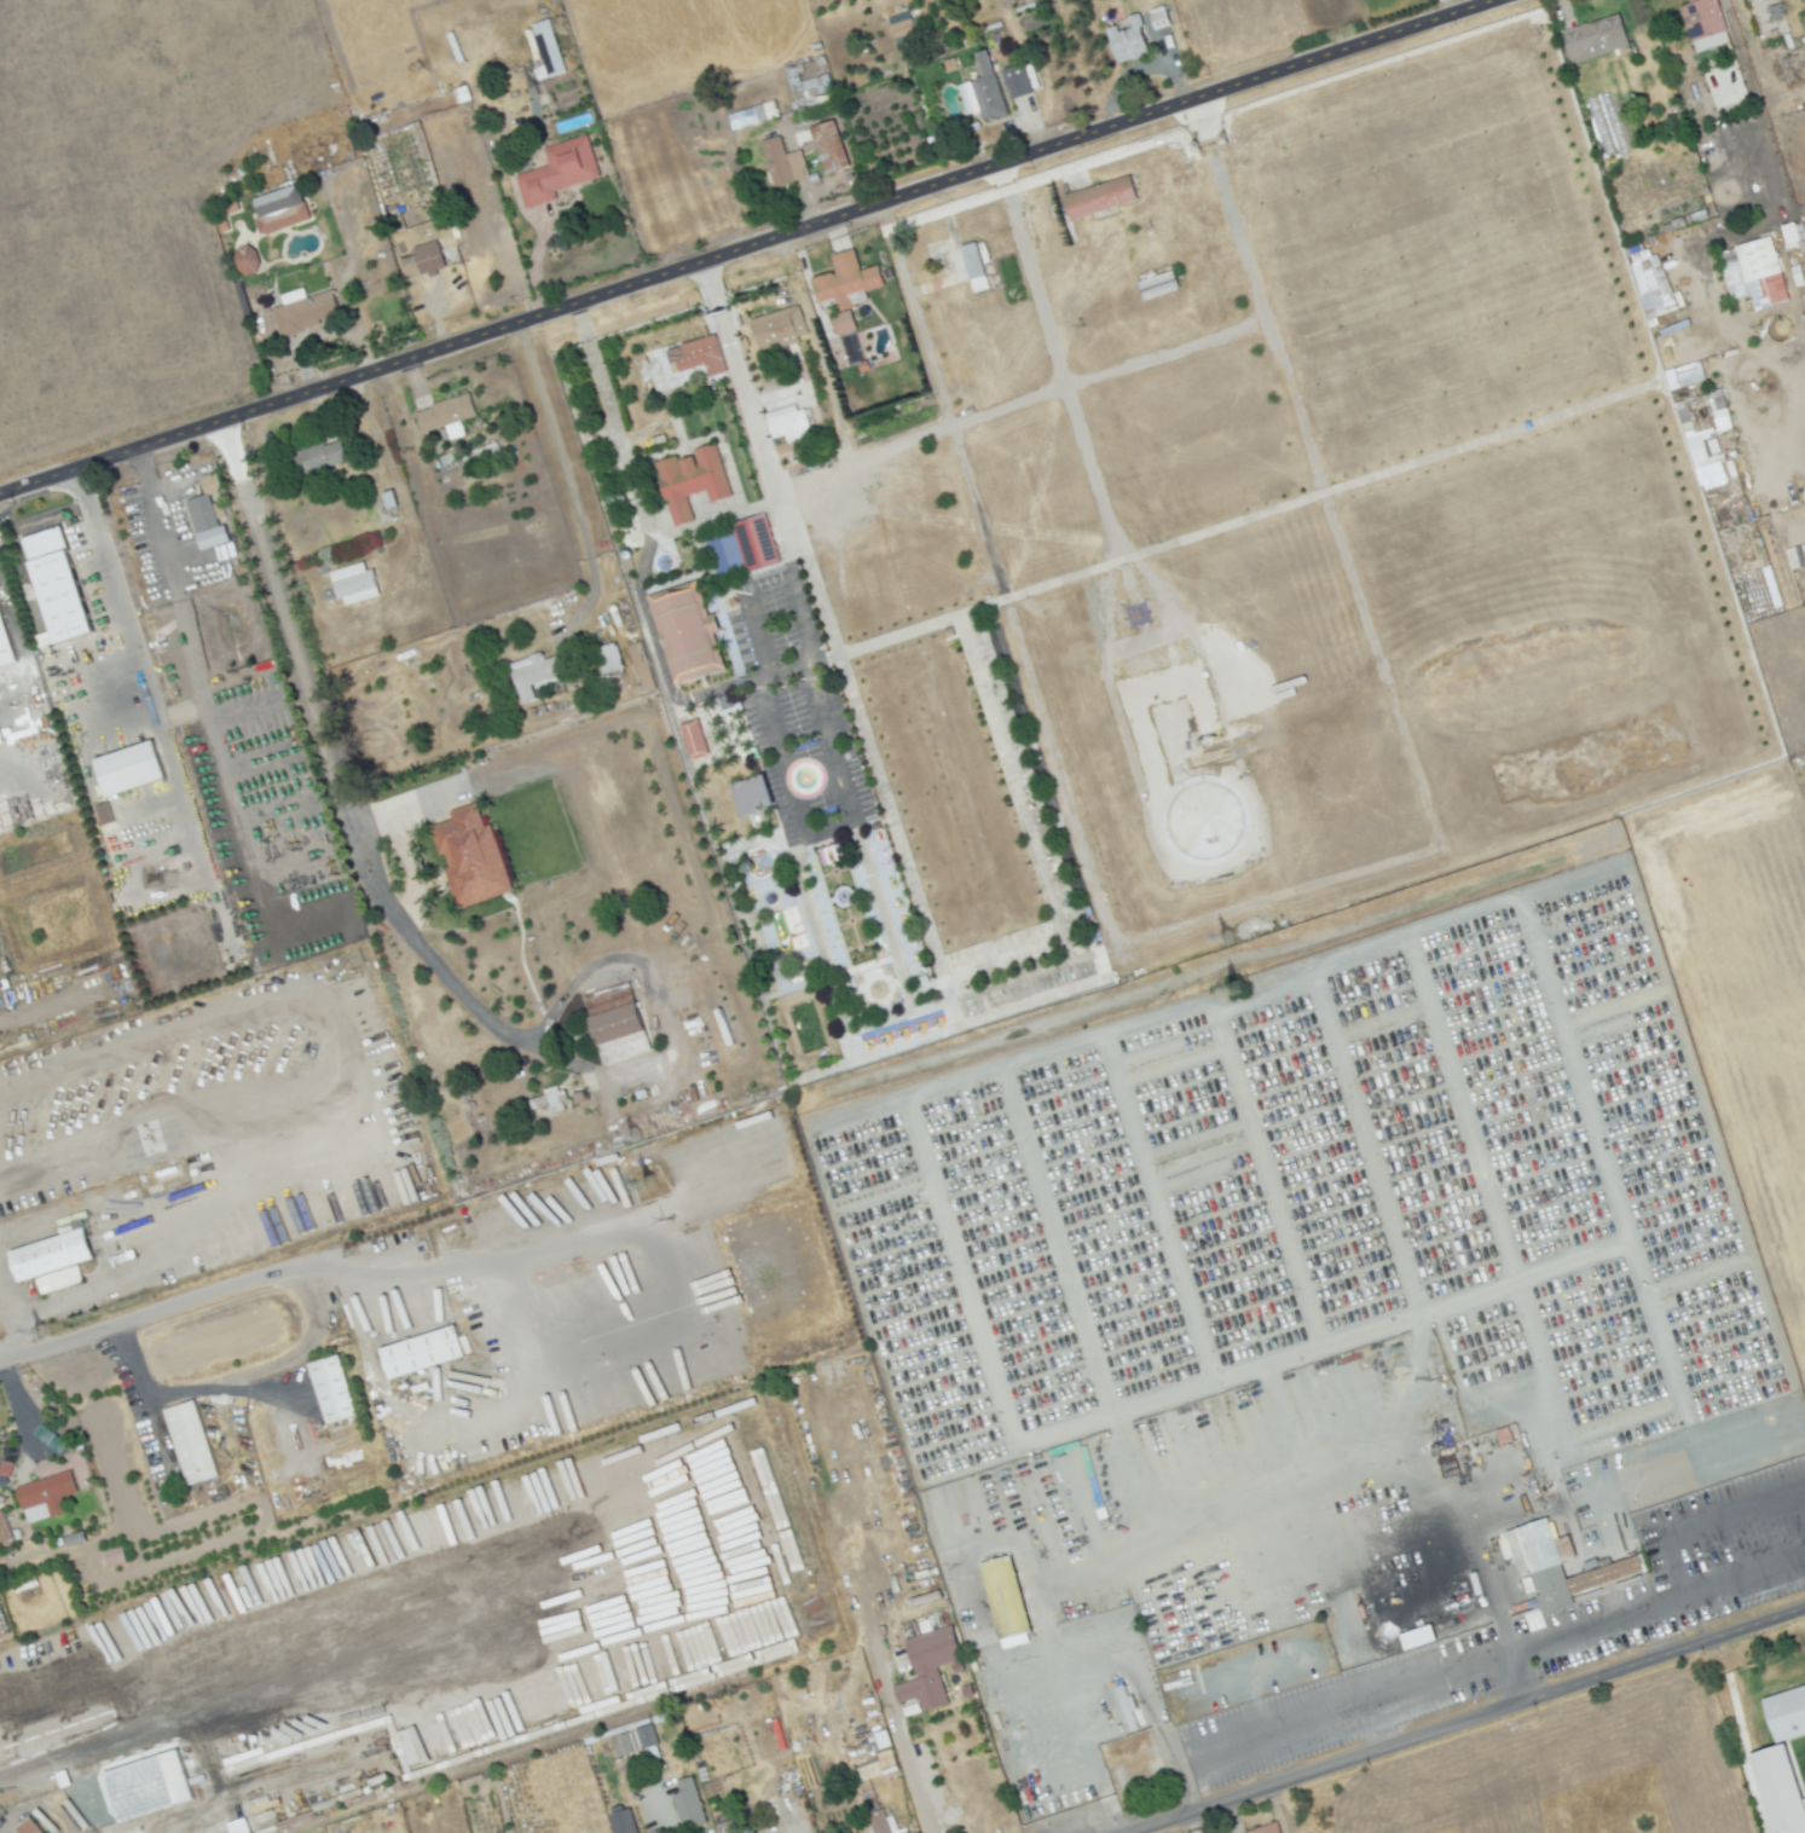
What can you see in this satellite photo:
building: (1747, 0)
building: (1163, 22)
building: (899, 24)
building: (1702, 24)
building: (1597, 37)
building: (1132, 44)
building: (546, 50)
building: (1019, 83)
road: (1749, 88)
building: (991, 94)
building: (750, 118)
building: (834, 151)
building: (786, 164)
building: (561, 173)
building: (1098, 197)
building: (277, 209)
building: (1793, 233)
road: (750, 247)
building: (244, 259)
building: (971, 261)
building: (427, 262)
building: (1752, 272)
building: (851, 281)
building: (1650, 281)
road: (707, 288)
building: (308, 316)
road: (578, 323)
building: (845, 323)
building: (781, 330)
building: (687, 363)
building: (867, 366)
building: (1683, 375)
building: (449, 414)
building: (793, 423)
building: (1703, 434)
building: (324, 456)
building: (695, 480)
road: (567, 481)
building: (393, 498)
building: (201, 513)
road: (708, 519)
building: (210, 537)
building: (741, 547)
building: (326, 571)
building: (56, 583)
building: (358, 583)
building: (690, 631)
building: (6, 640)
building: (614, 657)
building: (643, 667)
road: (135, 671)
building: (539, 673)
road: (731, 681)
road: (199, 700)
road: (241, 709)
building: (999, 723)
building: (692, 739)
road: (258, 759)
building: (133, 767)
road: (335, 790)
building: (751, 796)
road: (273, 810)
building: (103, 813)
road: (823, 827)
building: (469, 856)
building: (825, 918)
power tower: (1223, 937)
building: (775, 968)
power tower: (1238, 985)
building: (614, 1024)
building: (546, 1101)
power tower: (631, 1133)
power tower: (647, 1184)
building: (56, 1254)
road: (247, 1280)
power tower: (41, 1331)
building: (421, 1351)
building: (331, 1388)
road: (172, 1389)
building: (48, 1439)
building: (190, 1442)
building: (44, 1496)
road: (1728, 1515)
building: (1537, 1545)
building: (112, 1556)
building: (1538, 1569)
building: (1603, 1574)
building: (1551, 1589)
building: (1012, 1606)
road: (1494, 1608)
building: (1417, 1637)
road: (1500, 1659)
building: (927, 1667)
road: (1066, 1687)
building: (1789, 1717)
road: (1469, 1721)
building: (644, 1736)
road: (98, 1744)
building: (620, 1744)
building: (883, 1768)
building: (1146, 1773)
road: (908, 1776)
building: (152, 1786)
building: (1778, 1789)
building: (694, 1808)
road: (666, 1817)
building: (629, 1821)
building: (733, 1822)
building: (885, 1823)
building: (27, 1827)
building: (1271, 1828)

